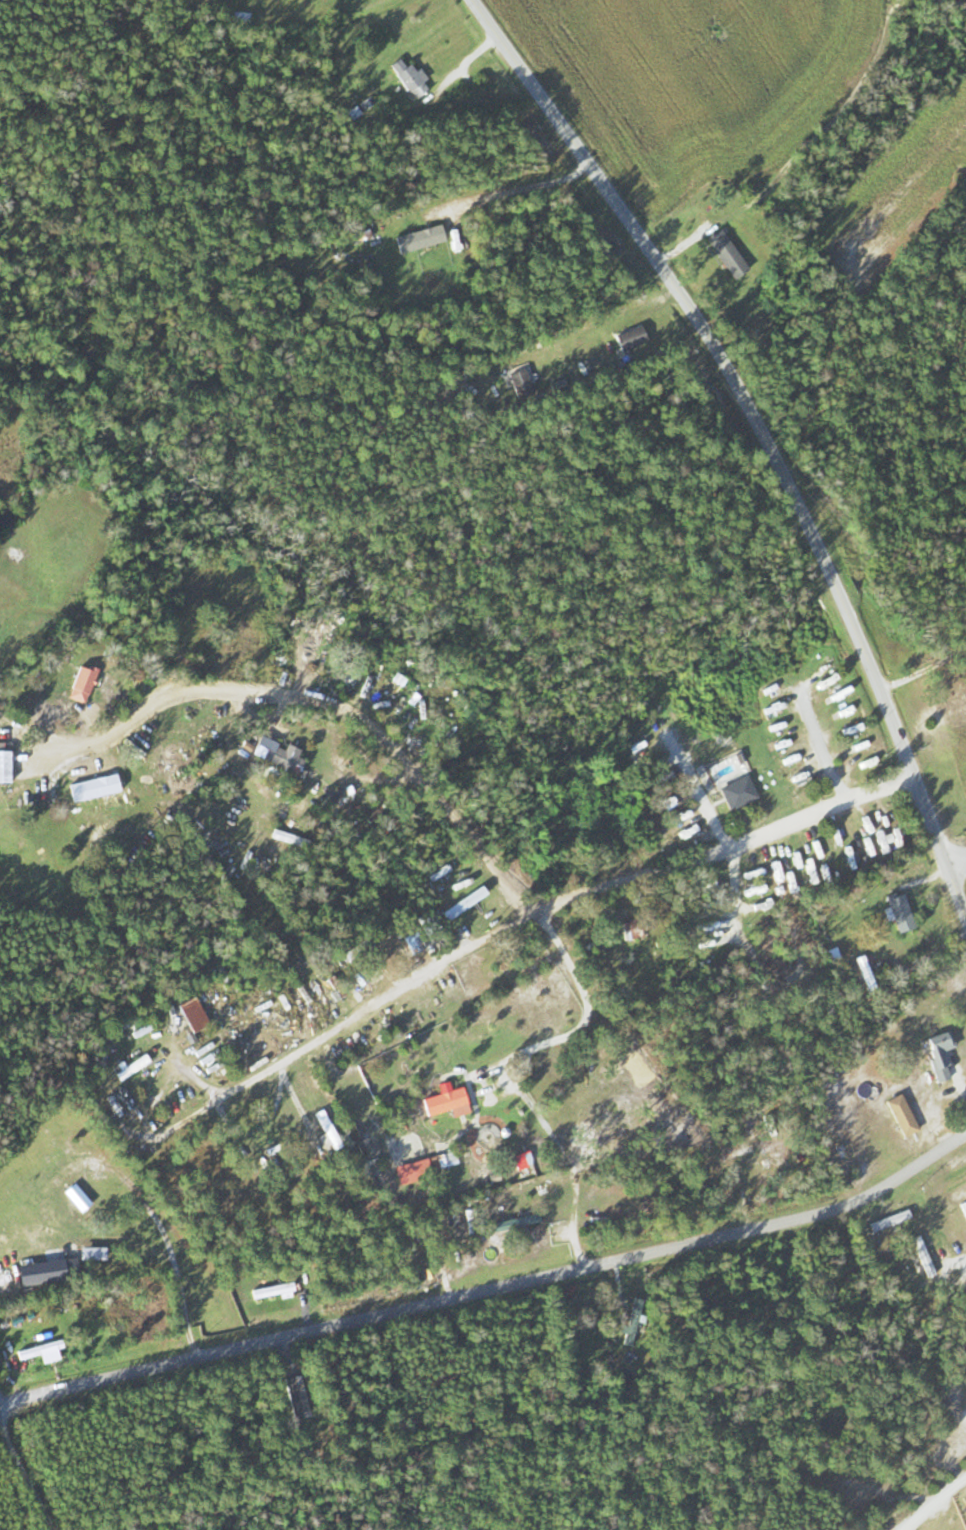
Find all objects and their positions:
building: (408, 77)
building: (417, 238)
building: (724, 253)
road: (764, 432)
building: (80, 683)
road: (301, 696)
road: (822, 746)
building: (284, 758)
building: (3, 766)
road: (696, 790)
building: (736, 791)
building: (879, 836)
building: (603, 844)
road: (955, 856)
building: (465, 901)
road: (557, 905)
building: (898, 911)
building: (634, 929)
building: (399, 948)
building: (797, 966)
building: (863, 971)
building: (191, 1015)
building: (938, 1051)
building: (131, 1065)
building: (441, 1100)
building: (120, 1102)
building: (900, 1115)
building: (266, 1147)
building: (735, 1153)
building: (444, 1159)
building: (75, 1197)
building: (963, 1208)
building: (887, 1220)
building: (513, 1221)
building: (921, 1256)
building: (61, 1271)
road: (495, 1282)
building: (273, 1291)
building: (631, 1321)
building: (41, 1345)
building: (295, 1397)
road: (932, 1505)

